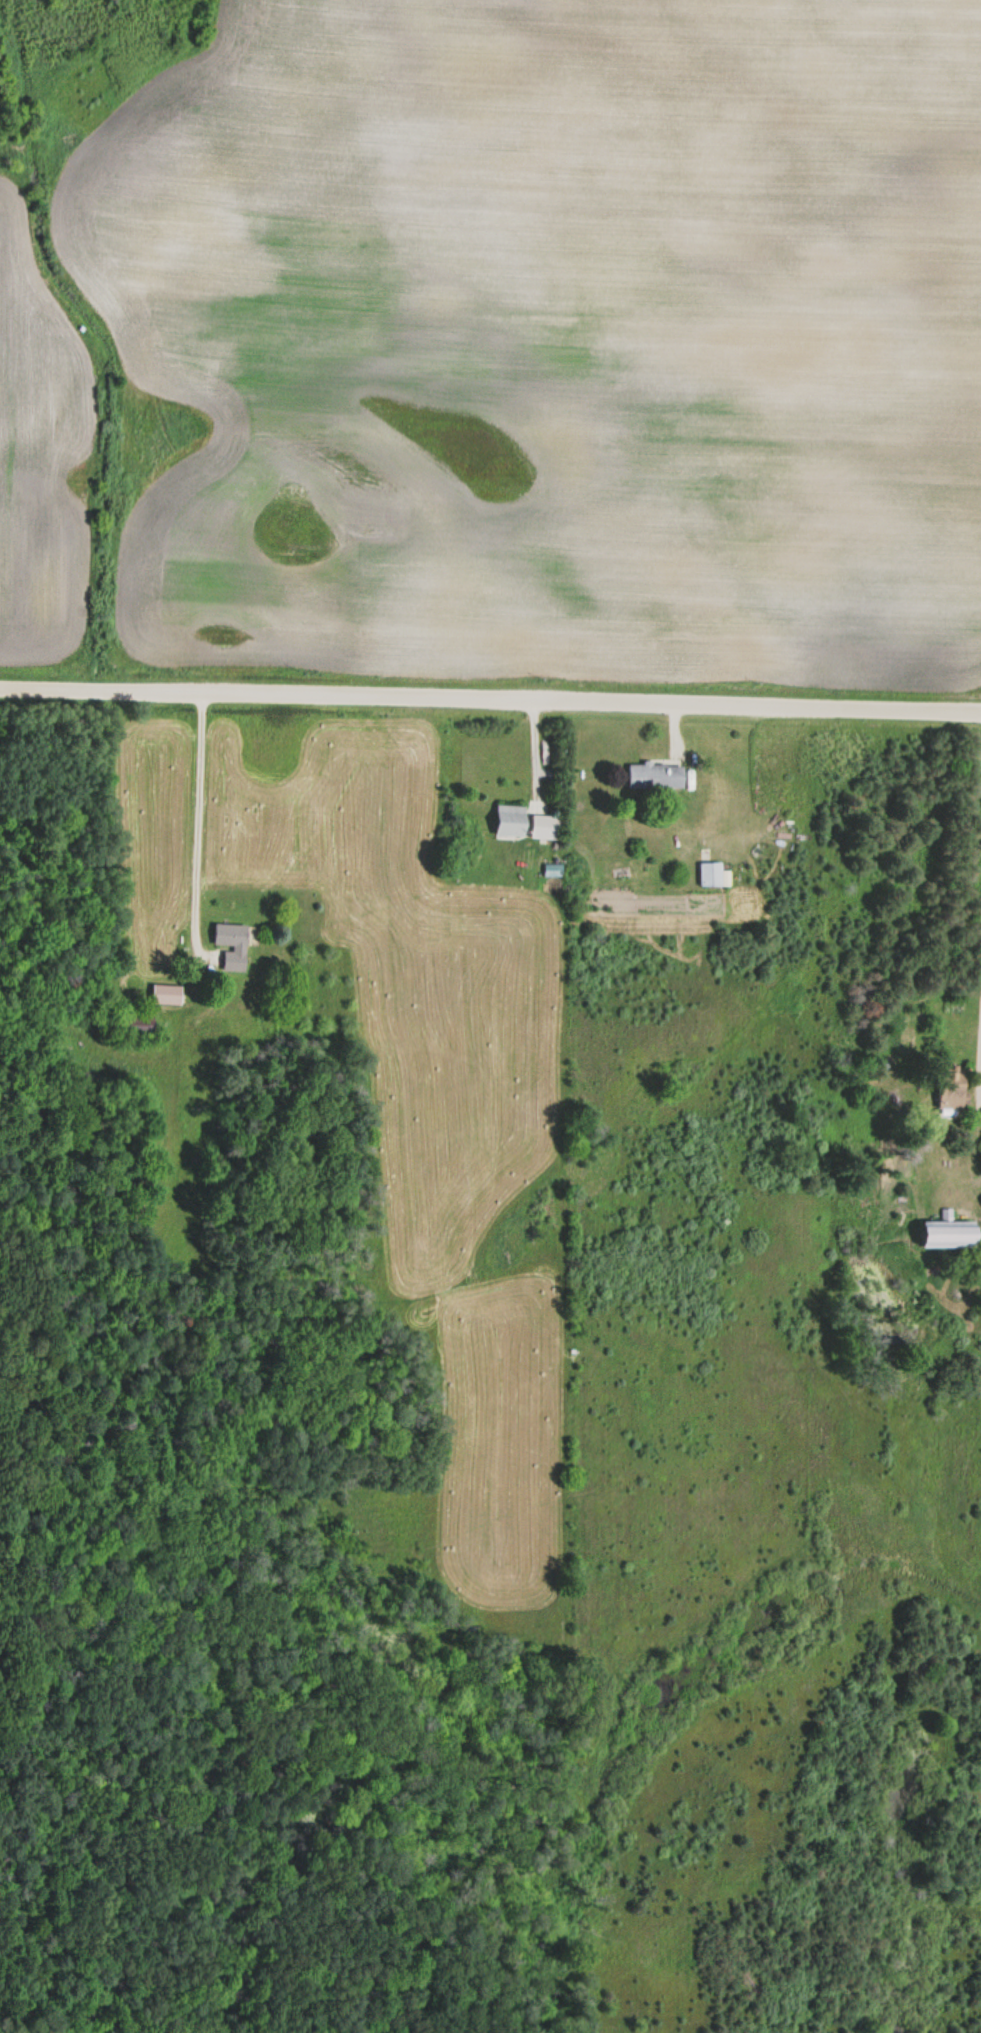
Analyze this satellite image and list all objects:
road: (490, 698)
building: (654, 777)
building: (511, 822)
building: (545, 828)
road: (195, 830)
building: (710, 875)
building: (231, 946)
building: (167, 996)
road: (977, 1040)
building: (951, 1233)

